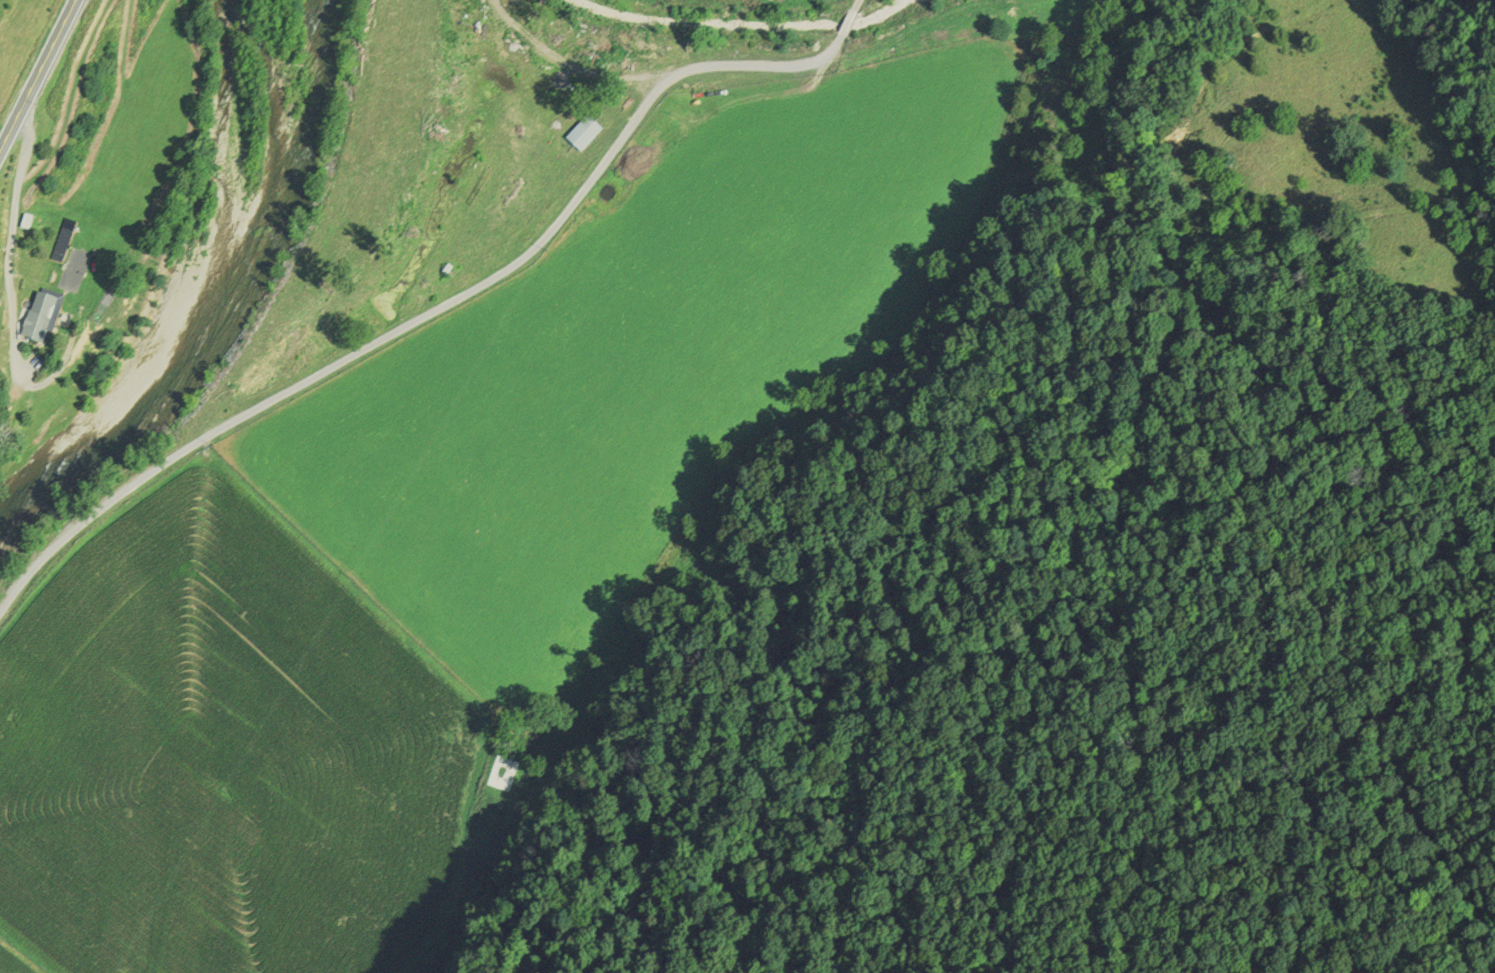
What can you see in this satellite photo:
road: (858, 6)
road: (850, 24)
road: (35, 74)
building: (585, 134)
building: (64, 246)
river: (229, 301)
road: (430, 312)
building: (43, 321)
crop: (635, 363)
crop: (232, 753)
crop: (17, 959)

